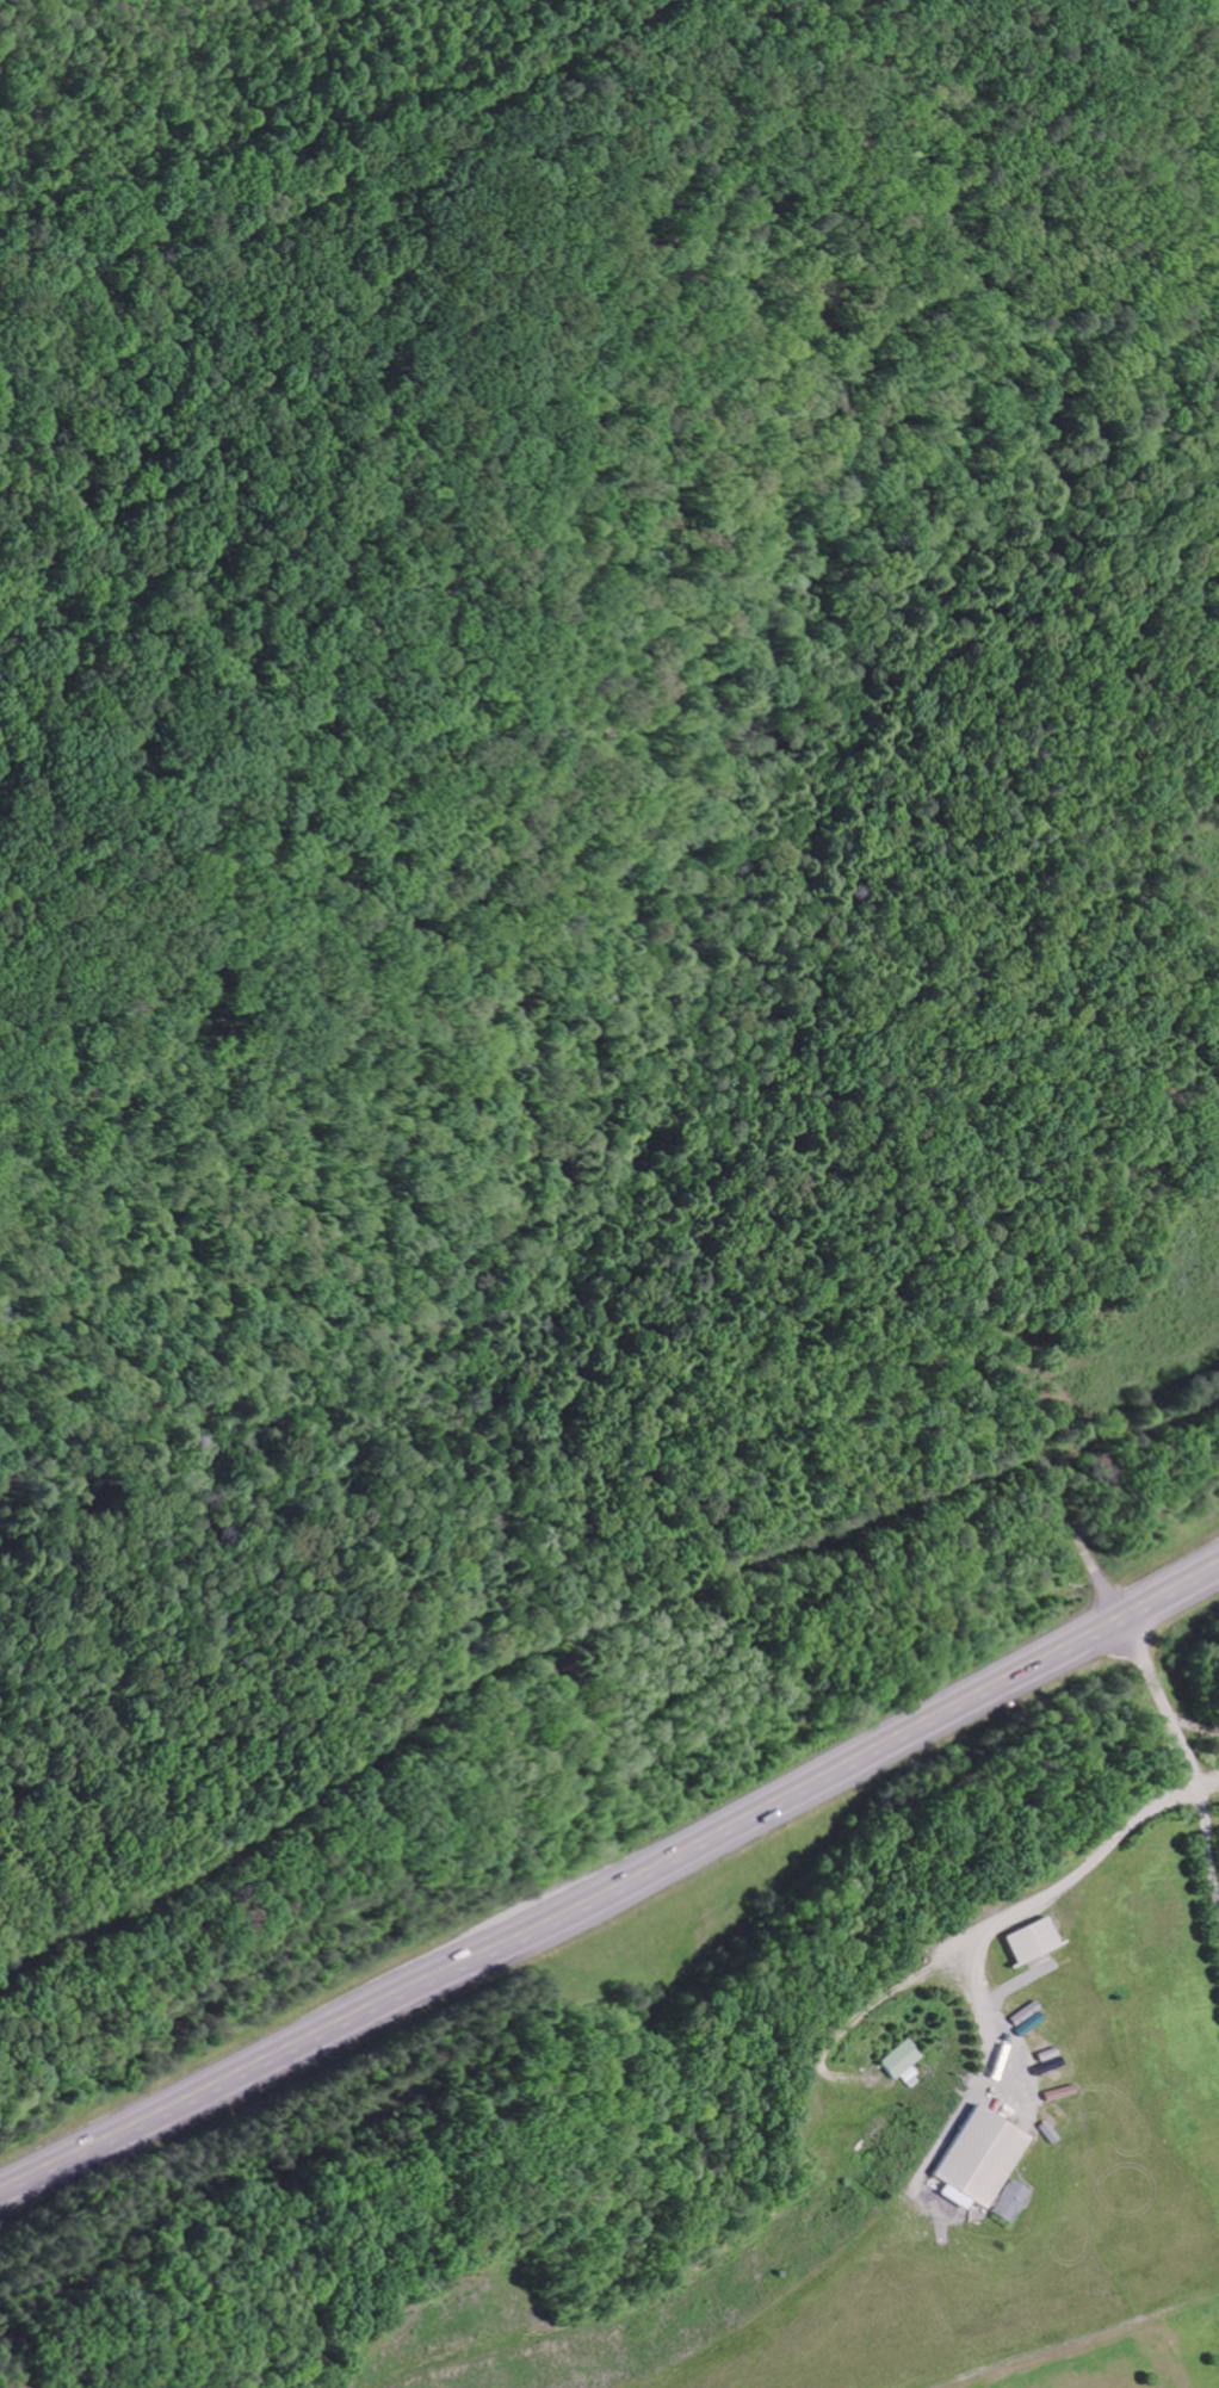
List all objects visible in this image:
road: (1194, 1722)
road: (1178, 1740)
road: (611, 1888)
road: (1039, 1899)
building: (1031, 1944)
road: (867, 2010)
building: (908, 2064)
building: (977, 2161)
building: (1008, 2206)
airport runway: (1011, 2326)

